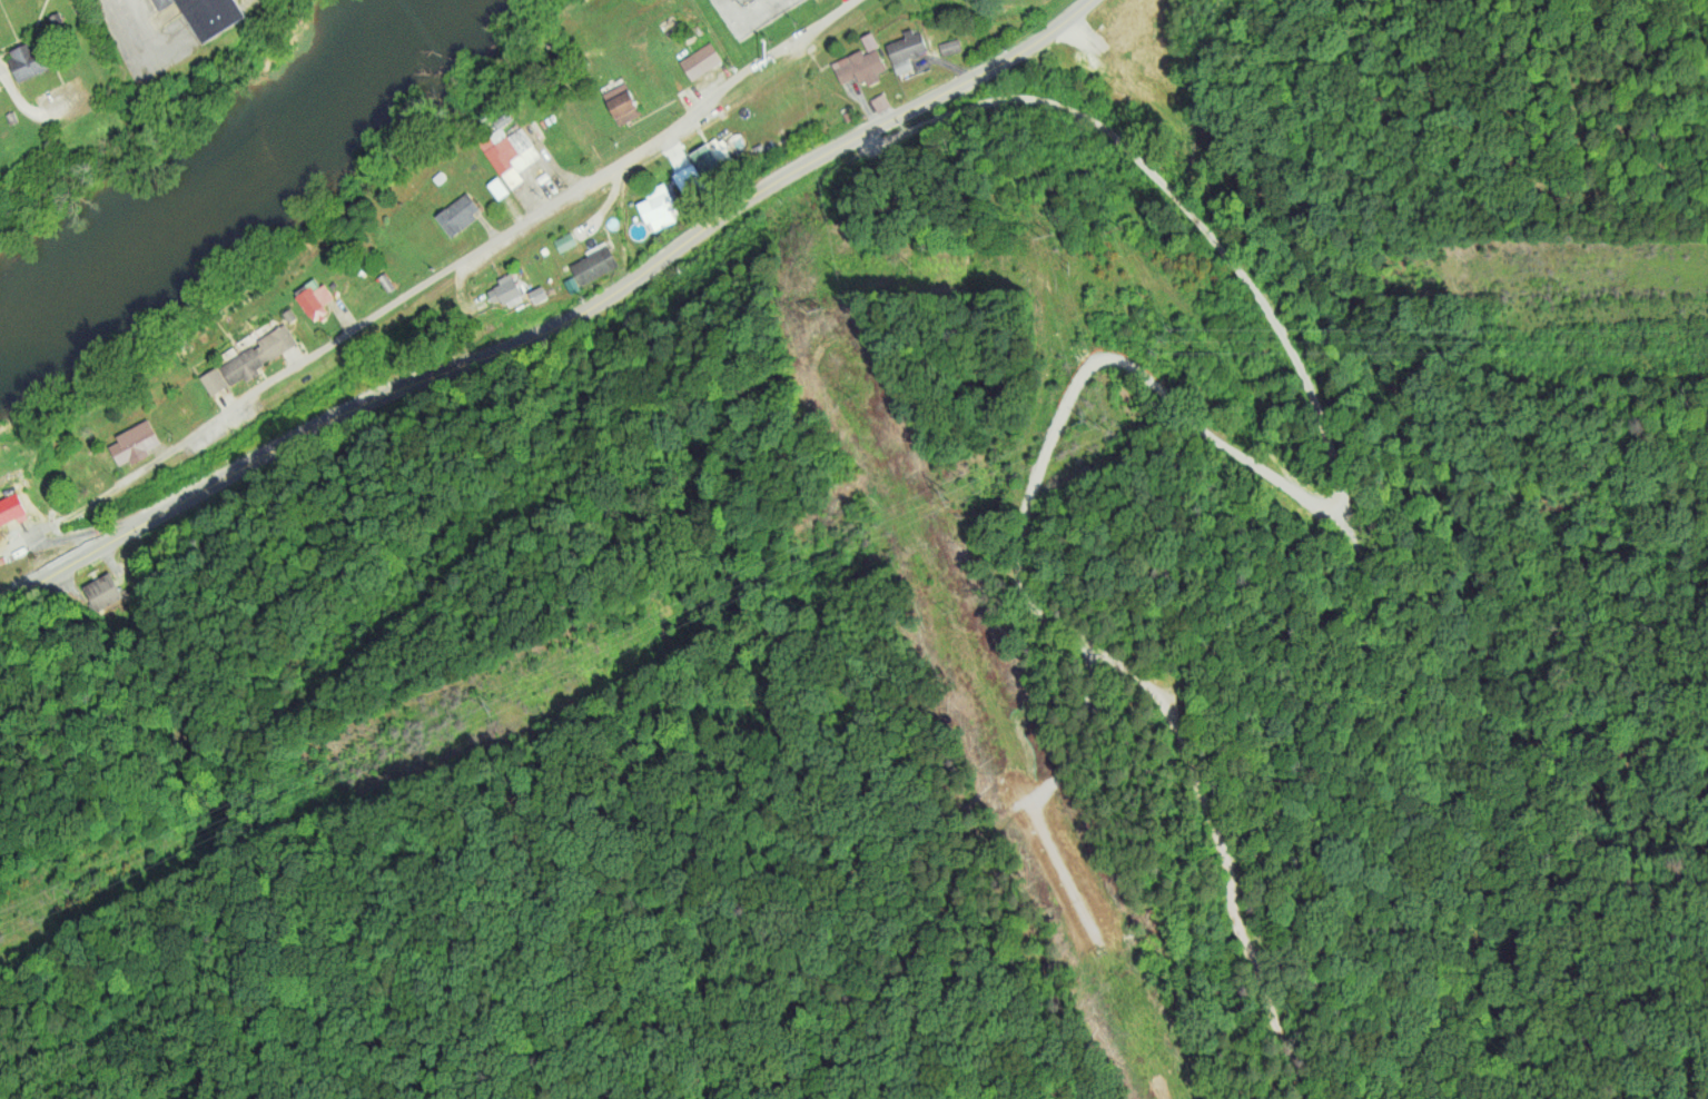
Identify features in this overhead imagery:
road: (1082, 3)
power substation: (750, 13)
building: (205, 16)
building: (1143, 23)
building: (868, 43)
building: (949, 49)
building: (905, 51)
building: (699, 63)
building: (24, 65)
building: (859, 69)
road: (20, 102)
building: (620, 105)
building: (879, 105)
building: (11, 119)
building: (507, 155)
building: (714, 155)
river: (234, 170)
building: (438, 180)
building: (687, 180)
building: (497, 187)
building: (656, 209)
building: (456, 216)
power tower: (1054, 241)
building: (563, 244)
road: (488, 245)
building: (592, 267)
building: (385, 284)
building: (505, 290)
building: (536, 294)
building: (313, 301)
road: (544, 317)
building: (248, 362)
road: (1171, 397)
power tower: (1100, 425)
building: (132, 444)
power tower: (950, 492)
building: (11, 508)
road: (98, 528)
building: (103, 593)
power tower: (486, 704)

